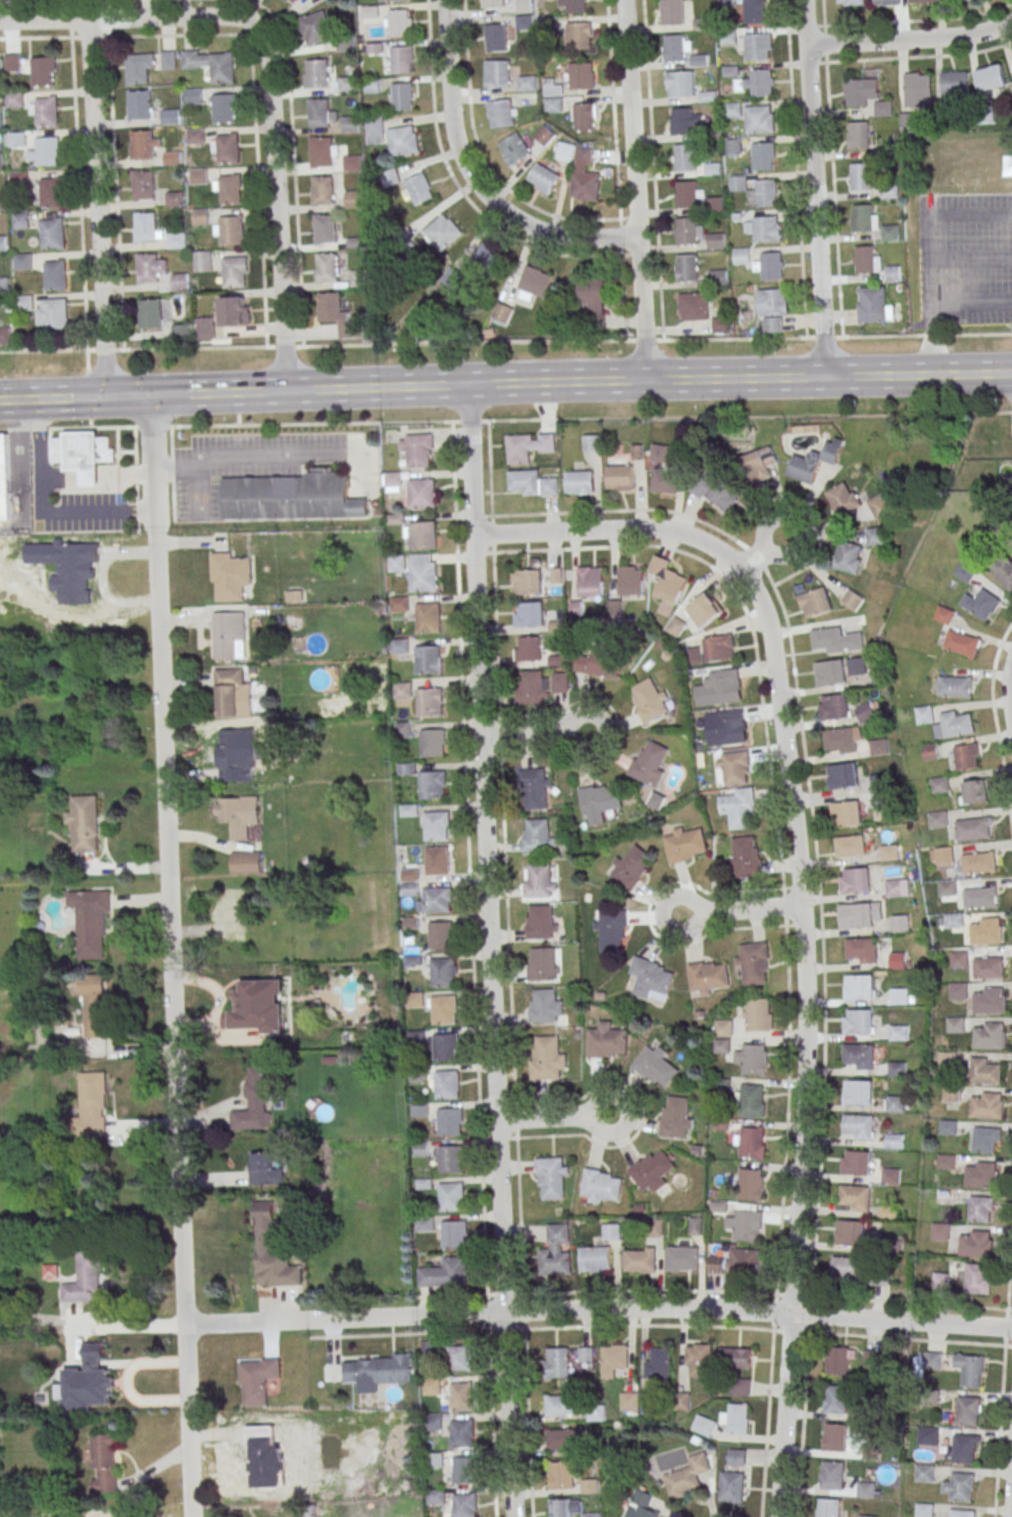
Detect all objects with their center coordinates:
building: (393, 0)
building: (927, 1)
building: (290, 2)
building: (850, 2)
building: (886, 2)
building: (492, 3)
building: (726, 3)
building: (574, 6)
building: (369, 11)
building: (754, 11)
building: (672, 12)
road: (131, 19)
building: (399, 22)
building: (525, 22)
building: (314, 27)
building: (580, 35)
building: (496, 37)
road: (909, 38)
building: (346, 45)
building: (755, 46)
building: (374, 47)
building: (674, 47)
road: (919, 56)
building: (167, 59)
building: (402, 59)
building: (1011, 61)
building: (12, 62)
building: (221, 67)
building: (136, 69)
building: (42, 71)
building: (497, 73)
building: (317, 74)
building: (581, 76)
building: (992, 77)
building: (527, 82)
building: (761, 82)
building: (680, 83)
building: (955, 83)
building: (347, 84)
building: (372, 85)
road: (827, 85)
building: (919, 89)
building: (861, 91)
building: (193, 96)
building: (402, 96)
building: (552, 96)
building: (14, 99)
building: (138, 104)
building: (223, 109)
building: (43, 110)
building: (733, 110)
building: (318, 112)
building: (502, 113)
building: (169, 116)
building: (584, 116)
building: (755, 119)
building: (681, 120)
building: (349, 123)
building: (374, 129)
building: (858, 134)
building: (544, 135)
building: (195, 136)
building: (16, 139)
building: (403, 140)
building: (142, 145)
building: (733, 147)
building: (227, 148)
building: (514, 149)
building: (47, 151)
building: (321, 151)
building: (762, 155)
building: (0, 157)
building: (684, 157)
building: (351, 162)
building: (580, 172)
building: (197, 175)
building: (861, 175)
building: (18, 178)
building: (543, 178)
road: (472, 179)
building: (736, 183)
building: (142, 185)
road: (813, 188)
building: (230, 189)
building: (322, 189)
road: (634, 189)
building: (417, 190)
building: (52, 192)
building: (765, 192)
building: (685, 194)
building: (174, 198)
building: (353, 199)
building: (1, 201)
building: (713, 204)
road: (96, 208)
road: (275, 210)
building: (200, 216)
road: (569, 218)
building: (863, 218)
building: (20, 220)
building: (145, 226)
building: (323, 228)
building: (765, 229)
building: (231, 230)
building: (685, 230)
building: (52, 233)
building: (441, 233)
building: (891, 233)
road: (928, 237)
building: (176, 240)
building: (714, 240)
building: (740, 256)
building: (488, 257)
building: (865, 259)
parking lot: (965, 259)
building: (202, 260)
building: (22, 261)
building: (770, 265)
building: (327, 267)
building: (685, 267)
building: (147, 268)
building: (233, 272)
building: (894, 273)
building: (55, 275)
building: (451, 276)
building: (358, 278)
building: (179, 280)
building: (533, 283)
road: (928, 283)
building: (592, 298)
building: (24, 302)
building: (767, 302)
building: (873, 304)
building: (694, 306)
building: (330, 307)
road: (940, 309)
building: (230, 311)
building: (55, 313)
building: (501, 313)
building: (151, 314)
building: (720, 324)
building: (204, 328)
building: (181, 332)
building: (6, 335)
road: (533, 341)
road: (150, 348)
road: (636, 380)
road: (194, 394)
traffic signals: (128, 397)
road: (63, 398)
road: (505, 420)
building: (590, 442)
building: (528, 446)
building: (417, 449)
road: (242, 455)
building: (87, 458)
building: (814, 461)
parking lot: (243, 464)
building: (759, 464)
road: (22, 477)
building: (620, 477)
building: (5, 478)
building: (393, 479)
building: (664, 480)
building: (580, 482)
building: (532, 483)
building: (421, 493)
building: (717, 493)
building: (290, 497)
building: (843, 499)
building: (879, 506)
road: (42, 513)
building: (422, 535)
building: (874, 536)
road: (763, 550)
building: (848, 557)
building: (397, 563)
building: (79, 570)
building: (1003, 571)
building: (423, 572)
building: (964, 572)
building: (231, 575)
building: (556, 575)
building: (666, 579)
building: (631, 580)
building: (528, 581)
building: (591, 581)
building: (852, 599)
building: (815, 602)
building: (399, 603)
building: (979, 603)
building: (705, 610)
building: (529, 614)
building: (943, 614)
building: (428, 617)
building: (675, 626)
building: (229, 635)
building: (837, 640)
building: (961, 643)
building: (528, 648)
building: (719, 648)
building: (429, 659)
building: (600, 664)
building: (856, 666)
building: (829, 673)
building: (561, 682)
building: (726, 684)
building: (954, 686)
building: (531, 687)
road: (1009, 687)
building: (403, 689)
building: (229, 692)
building: (651, 699)
building: (431, 701)
building: (833, 707)
building: (923, 714)
building: (955, 723)
building: (731, 725)
road: (995, 729)
road: (536, 732)
building: (842, 740)
building: (433, 742)
building: (878, 746)
building: (965, 756)
building: (235, 758)
building: (649, 762)
building: (737, 767)
building: (842, 775)
building: (433, 784)
building: (938, 784)
building: (536, 789)
building: (973, 792)
building: (600, 802)
building: (739, 806)
building: (845, 813)
building: (239, 814)
building: (937, 819)
building: (84, 823)
building: (437, 824)
building: (972, 828)
building: (538, 834)
building: (685, 844)
building: (849, 846)
building: (888, 853)
building: (940, 855)
road: (470, 857)
road: (506, 857)
building: (746, 857)
building: (438, 860)
building: (246, 862)
building: (977, 862)
building: (632, 866)
building: (540, 880)
building: (854, 880)
building: (894, 887)
building: (946, 888)
building: (427, 893)
building: (979, 897)
road: (802, 899)
road: (742, 910)
building: (234, 913)
building: (857, 915)
building: (542, 921)
building: (91, 922)
building: (900, 923)
building: (985, 930)
building: (611, 931)
building: (441, 934)
road: (492, 950)
building: (860, 950)
road: (170, 956)
building: (958, 959)
building: (897, 960)
building: (543, 963)
building: (754, 963)
building: (987, 967)
building: (444, 971)
building: (709, 977)
building: (652, 979)
building: (860, 987)
building: (957, 990)
building: (899, 996)
building: (988, 1000)
building: (545, 1004)
building: (94, 1006)
building: (258, 1006)
building: (444, 1008)
building: (757, 1014)
building: (857, 1021)
building: (954, 1024)
building: (898, 1032)
building: (722, 1035)
building: (988, 1035)
building: (607, 1041)
building: (445, 1046)
building: (857, 1056)
building: (548, 1057)
building: (751, 1058)
building: (947, 1059)
building: (656, 1066)
building: (897, 1069)
building: (984, 1071)
building: (447, 1084)
building: (857, 1092)
building: (750, 1100)
building: (255, 1101)
building: (895, 1103)
building: (93, 1104)
building: (986, 1105)
road: (553, 1118)
building: (677, 1118)
building: (450, 1121)
building: (857, 1127)
building: (986, 1139)
building: (894, 1141)
building: (751, 1142)
building: (451, 1158)
building: (945, 1161)
building: (855, 1162)
building: (266, 1168)
building: (653, 1171)
building: (981, 1174)
building: (553, 1178)
building: (750, 1184)
building: (602, 1186)
building: (452, 1196)
building: (943, 1196)
building: (853, 1198)
building: (981, 1208)
building: (425, 1223)
building: (743, 1224)
building: (611, 1231)
building: (940, 1231)
building: (849, 1232)
building: (454, 1234)
building: (975, 1244)
building: (272, 1250)
building: (556, 1251)
building: (595, 1258)
building: (681, 1258)
building: (640, 1259)
building: (743, 1260)
building: (716, 1264)
building: (846, 1268)
building: (50, 1272)
building: (446, 1273)
road: (1009, 1275)
building: (85, 1278)
building: (978, 1278)
road: (715, 1290)
road: (531, 1312)
building: (586, 1354)
building: (459, 1358)
building: (735, 1358)
building: (874, 1358)
building: (613, 1359)
building: (934, 1359)
building: (698, 1360)
building: (839, 1360)
building: (558, 1362)
building: (657, 1363)
building: (970, 1369)
building: (377, 1371)
building: (257, 1380)
building: (742, 1387)
building: (84, 1389)
building: (463, 1395)
building: (836, 1399)
building: (632, 1401)
building: (562, 1404)
building: (969, 1410)
building: (873, 1412)
building: (596, 1414)
building: (736, 1418)
building: (433, 1423)
building: (703, 1425)
road: (999, 1427)
building: (463, 1433)
building: (928, 1435)
building: (836, 1436)
building: (563, 1438)
building: (965, 1447)
building: (265, 1452)
building: (872, 1452)
building: (735, 1458)
building: (104, 1463)
building: (466, 1469)
building: (925, 1473)
building: (833, 1474)
building: (564, 1475)
building: (688, 1476)
building: (590, 1486)
building: (960, 1486)
building: (731, 1487)
building: (867, 1489)
building: (436, 1496)
building: (466, 1505)
building: (642, 1505)
building: (565, 1507)
building: (829, 1507)
building: (924, 1509)
building: (962, 1513)
building: (591, 1514)
road: (1011, 1515)
building: (865, 1516)

